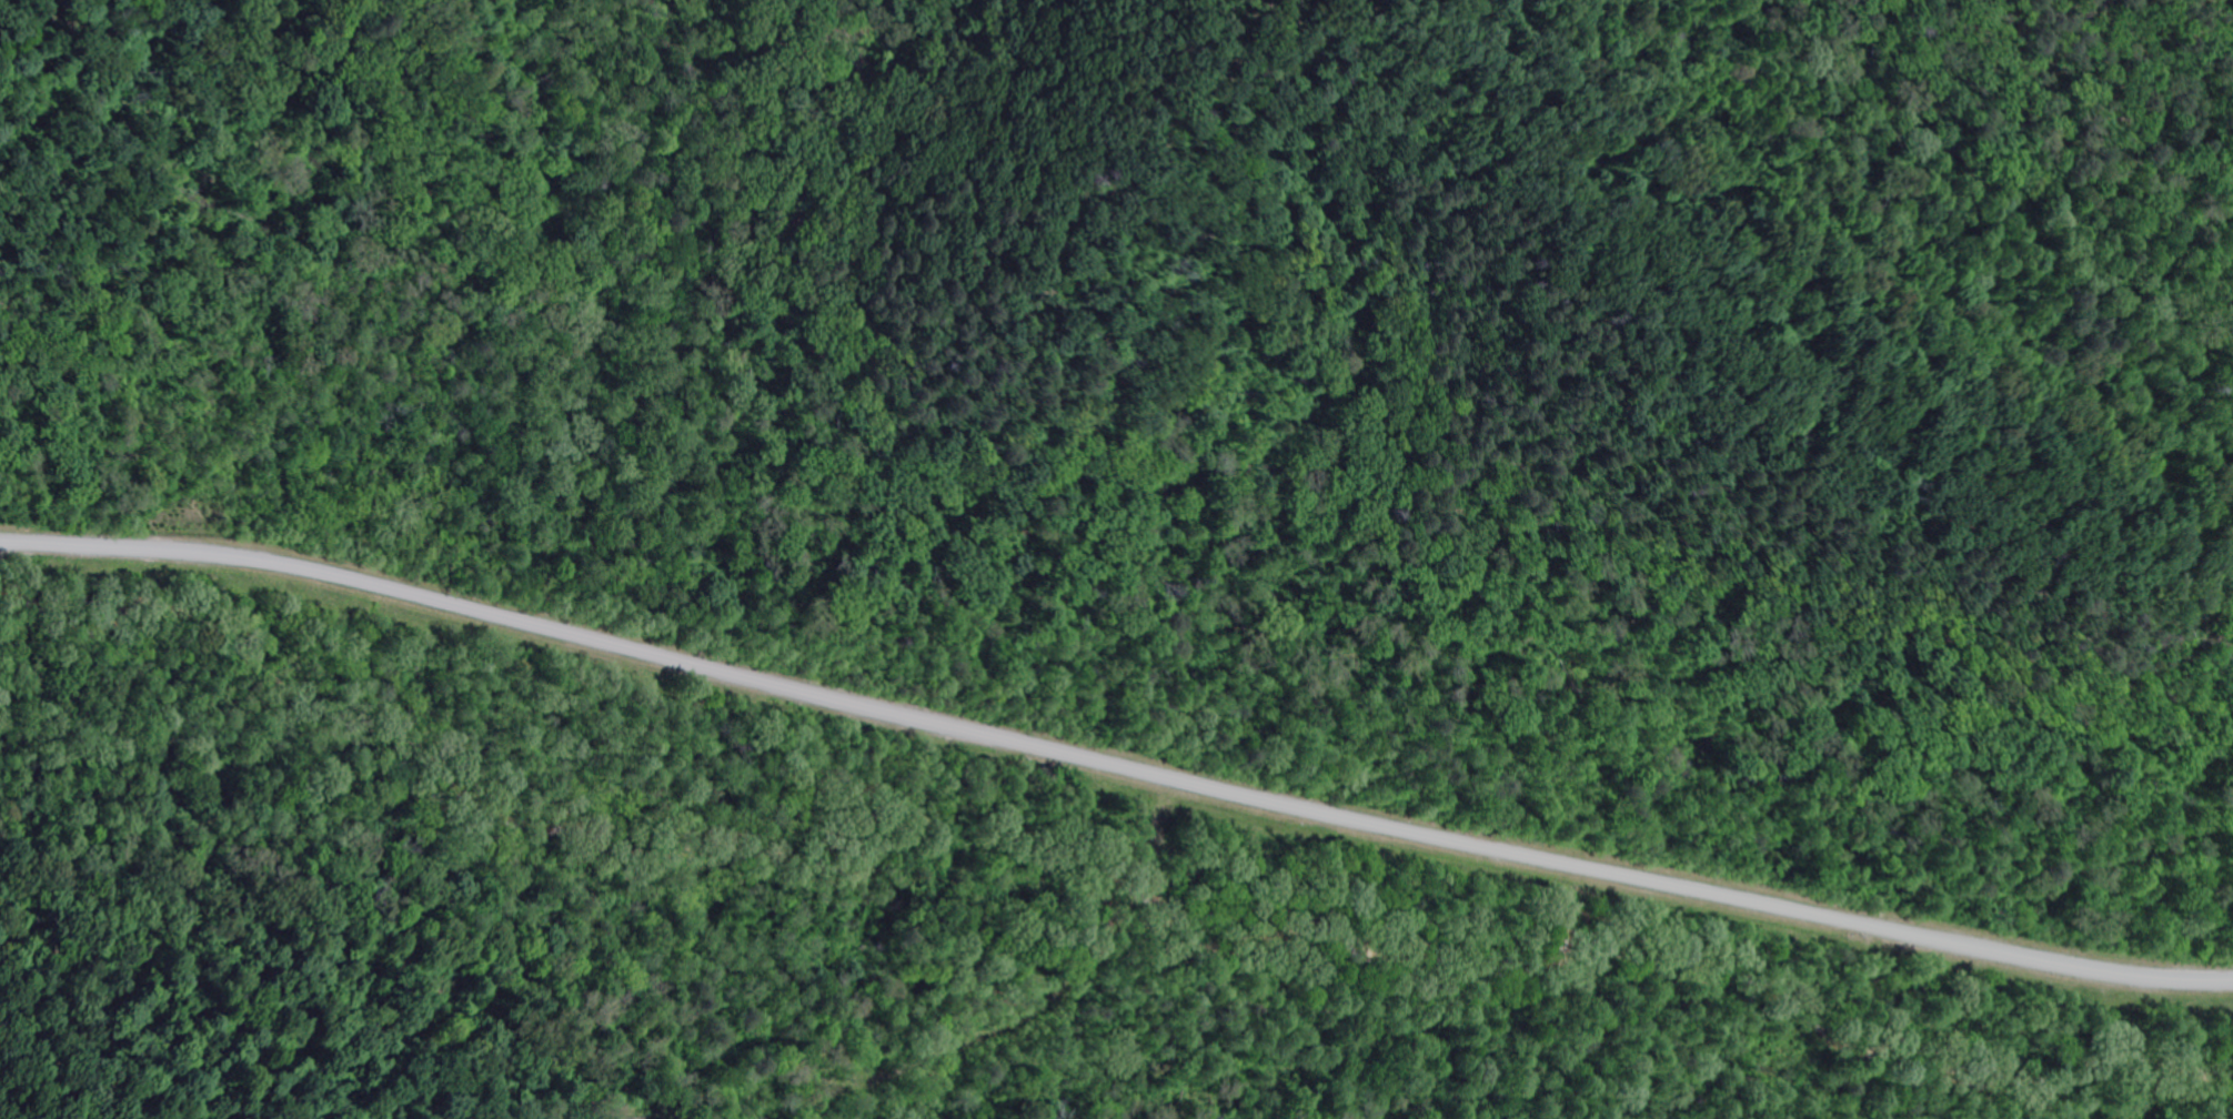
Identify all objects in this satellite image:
road: (1114, 766)

